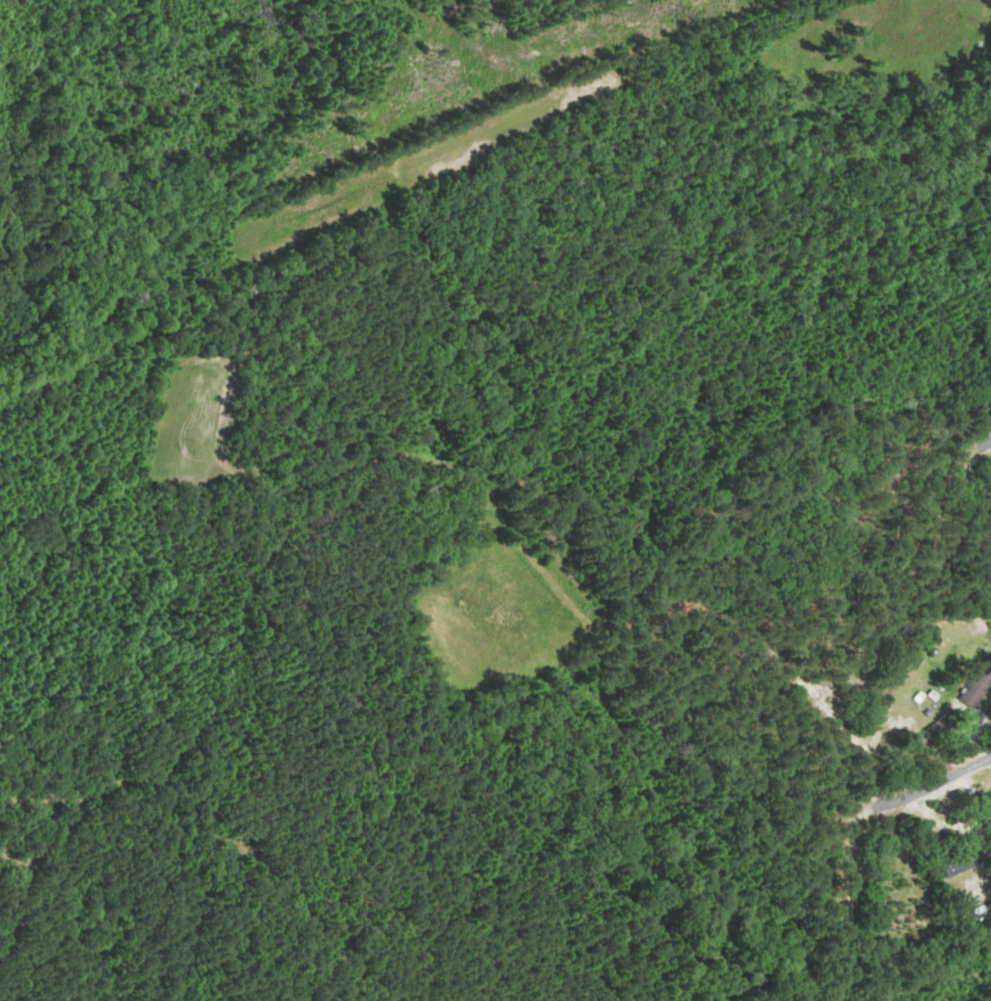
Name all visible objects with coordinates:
road: (983, 443)
building: (979, 688)
road: (934, 782)
building: (963, 863)

